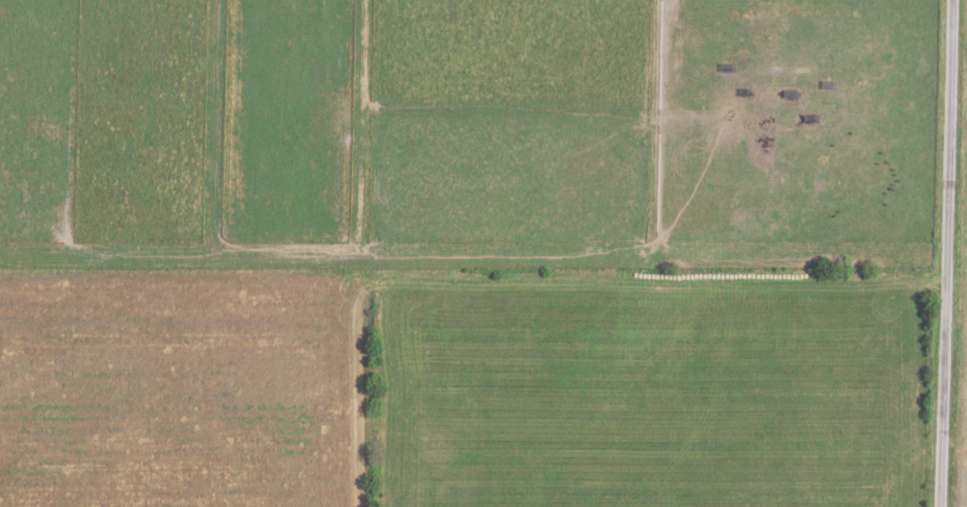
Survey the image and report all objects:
road: (946, 253)

